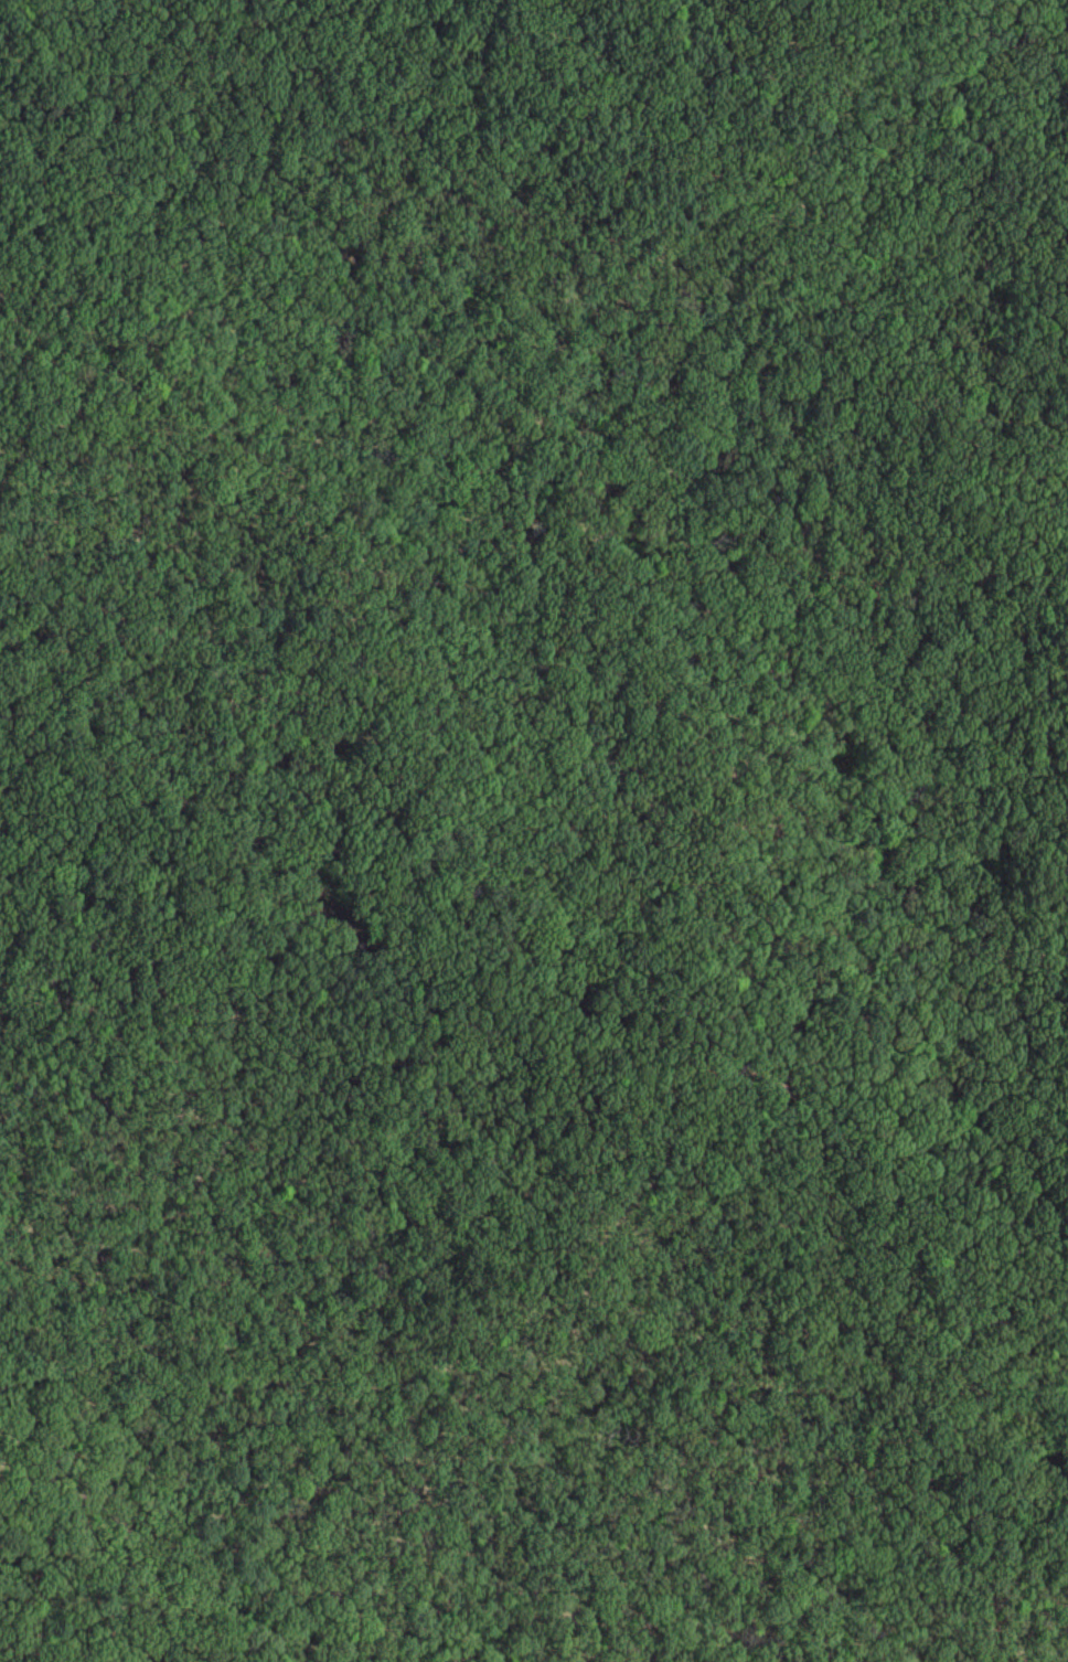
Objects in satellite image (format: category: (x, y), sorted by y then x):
road: (762, 1373)
road: (228, 1574)

